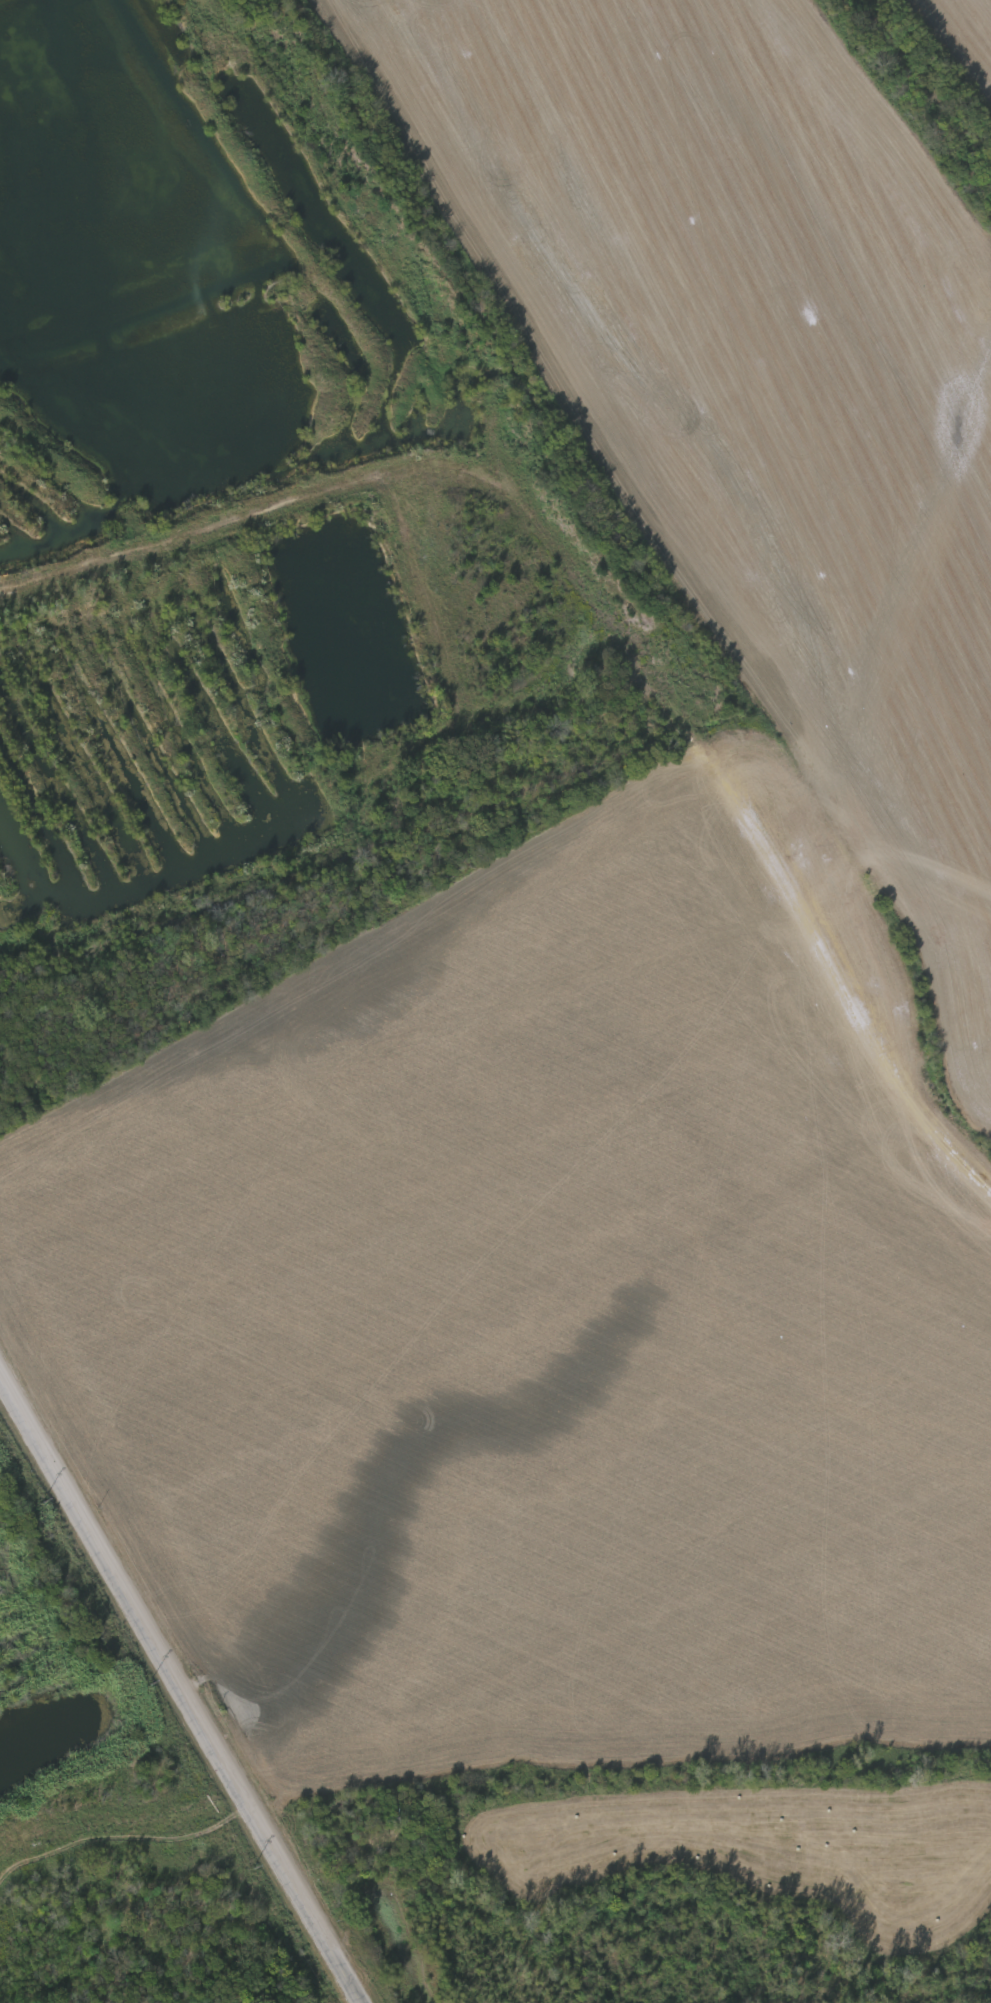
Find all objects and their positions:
road: (50, 573)
building: (193, 590)
road: (23, 670)
crop: (471, 675)
crop: (36, 1536)
crop: (650, 1615)
road: (183, 1682)
crop: (127, 1835)

